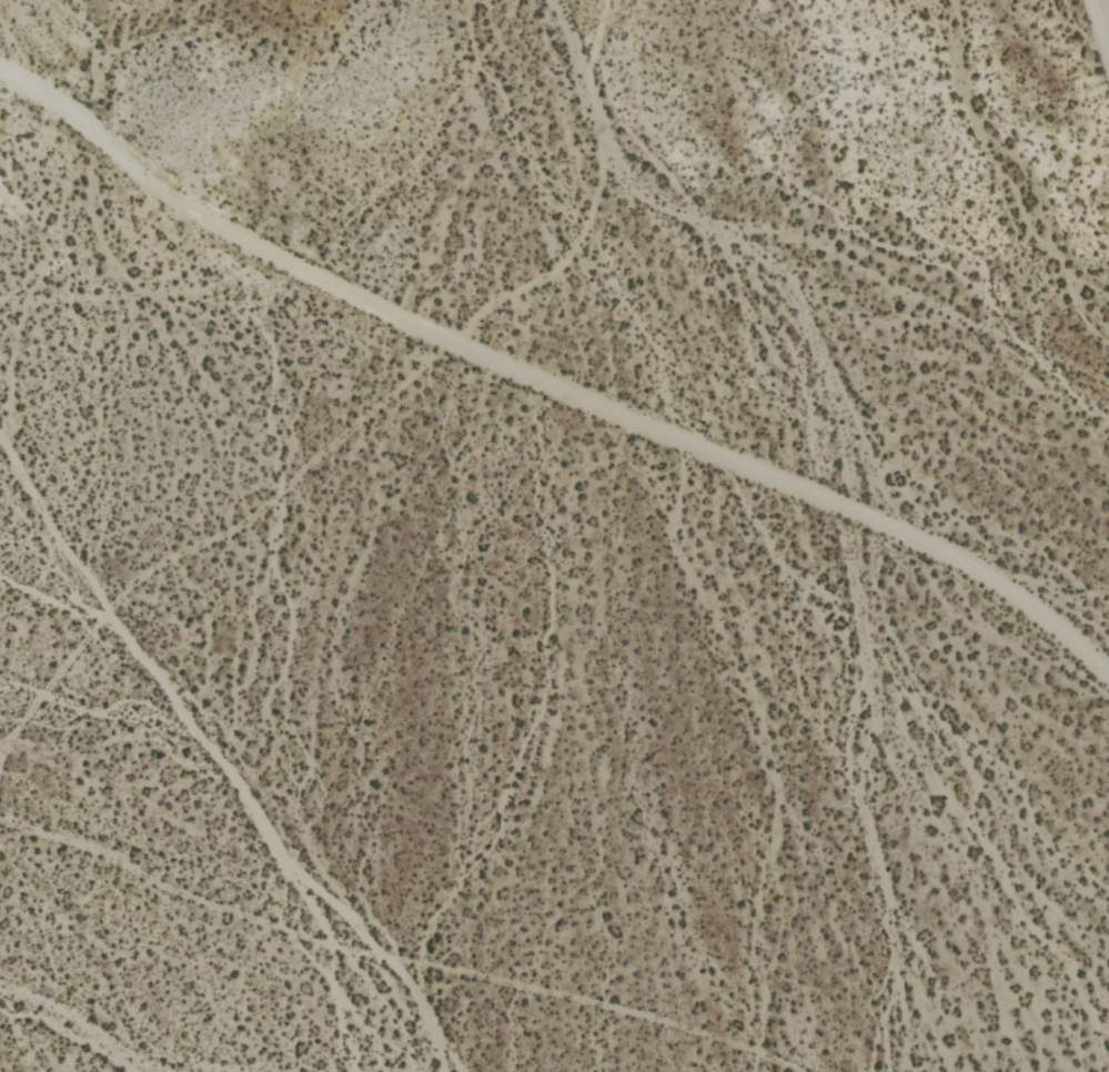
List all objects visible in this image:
road: (1103, 16)

